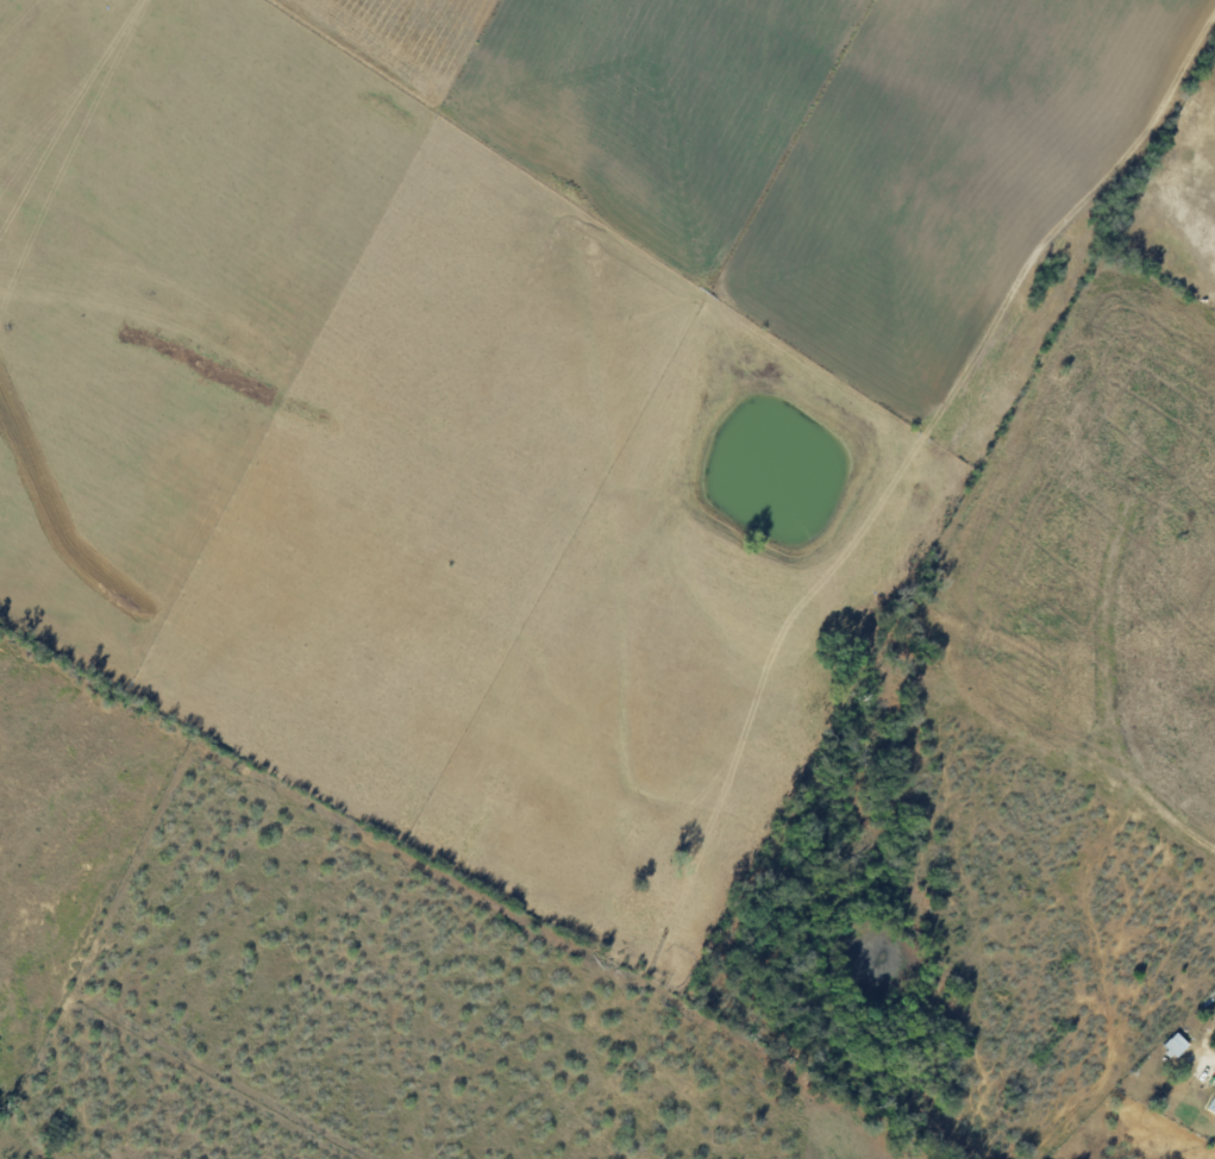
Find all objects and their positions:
building: (1172, 1044)
building: (1210, 1103)

